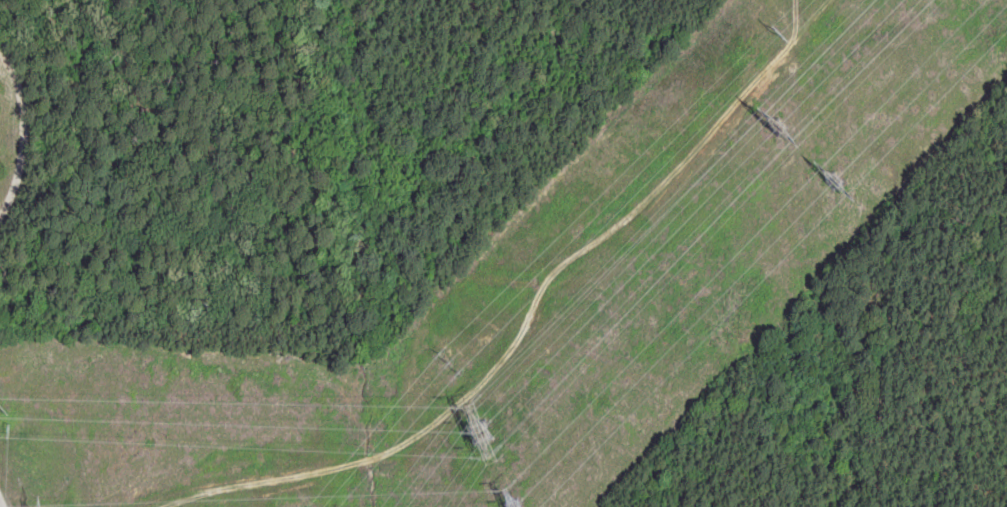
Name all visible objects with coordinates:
power tower: (776, 130)
road: (21, 132)
power tower: (829, 186)
power tower: (472, 438)
road: (1, 504)
power tower: (506, 506)

